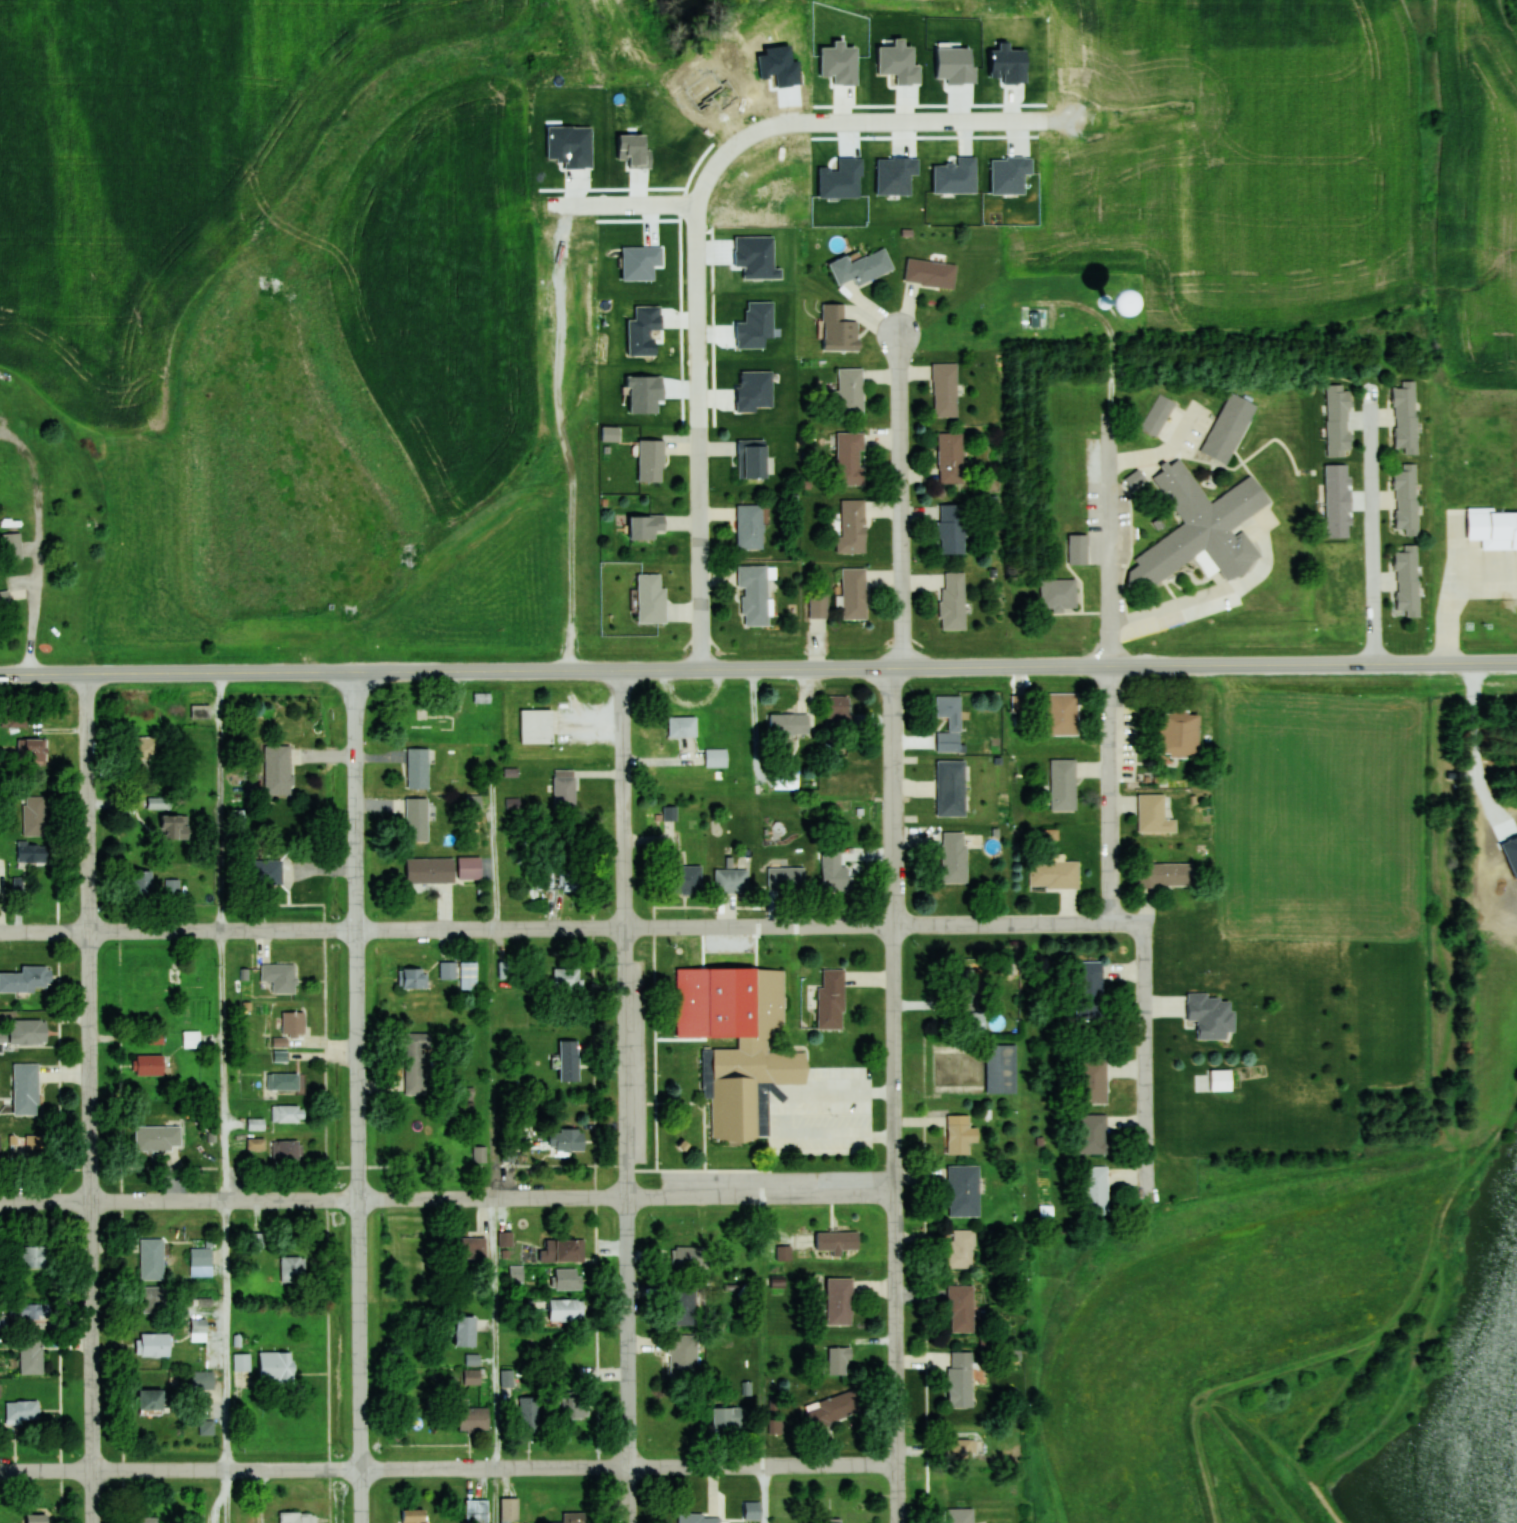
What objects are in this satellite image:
road: (791, 121)
building: (861, 266)
building: (930, 272)
water tower: (1112, 302)
building: (839, 328)
building: (945, 389)
building: (851, 390)
building: (1159, 411)
building: (1406, 416)
building: (1229, 427)
building: (610, 433)
road: (700, 438)
road: (1110, 449)
building: (951, 457)
building: (752, 458)
building: (851, 458)
building: (651, 460)
building: (1135, 478)
building: (1406, 499)
road: (900, 500)
building: (647, 526)
building: (750, 526)
building: (852, 526)
building: (1210, 526)
road: (1374, 526)
building: (1497, 528)
building: (952, 529)
building: (11, 545)
building: (1078, 549)
building: (1408, 580)
building: (754, 593)
building: (854, 593)
building: (1058, 594)
building: (5, 597)
building: (651, 599)
building: (953, 600)
building: (818, 605)
road: (803, 668)
road: (44, 674)
building: (481, 702)
building: (1018, 703)
building: (200, 711)
building: (1061, 713)
building: (838, 714)
building: (949, 722)
building: (789, 723)
building: (429, 724)
building: (536, 726)
building: (682, 726)
building: (1179, 732)
building: (145, 748)
building: (34, 750)
building: (716, 757)
building: (418, 768)
building: (278, 769)
building: (1063, 783)
building: (951, 787)
building: (564, 788)
building: (669, 813)
building: (1153, 814)
building: (34, 815)
building: (417, 818)
building: (174, 826)
building: (31, 851)
building: (953, 856)
building: (469, 867)
building: (430, 869)
building: (267, 872)
building: (834, 872)
building: (1054, 872)
building: (1165, 874)
building: (786, 878)
building: (570, 879)
building: (687, 879)
building: (731, 880)
building: (142, 882)
building: (170, 888)
road: (1130, 921)
road: (556, 929)
building: (447, 970)
building: (505, 970)
building: (468, 976)
building: (280, 977)
building: (412, 978)
building: (26, 979)
building: (566, 979)
building: (678, 980)
building: (1089, 986)
building: (831, 1000)
building: (970, 1005)
building: (1212, 1015)
building: (293, 1023)
building: (24, 1033)
building: (190, 1039)
building: (746, 1047)
building: (569, 1061)
building: (415, 1062)
building: (149, 1065)
building: (1001, 1069)
building: (285, 1081)
building: (1093, 1081)
building: (25, 1089)
road: (894, 1095)
road: (625, 1096)
road: (358, 1097)
road: (90, 1098)
building: (288, 1114)
building: (1091, 1134)
building: (960, 1135)
building: (157, 1137)
building: (567, 1140)
building: (256, 1144)
building: (36, 1146)
building: (287, 1150)
building: (964, 1190)
building: (1097, 1190)
road: (446, 1197)
building: (506, 1238)
building: (837, 1241)
building: (471, 1247)
building: (961, 1249)
building: (563, 1251)
building: (33, 1257)
building: (201, 1257)
building: (690, 1257)
building: (151, 1259)
building: (293, 1269)
building: (516, 1273)
building: (568, 1279)
building: (154, 1300)
building: (839, 1301)
building: (683, 1306)
building: (961, 1308)
building: (565, 1310)
building: (30, 1311)
building: (465, 1331)
building: (153, 1345)
building: (31, 1356)
building: (683, 1356)
building: (839, 1361)
building: (242, 1362)
building: (276, 1368)
building: (472, 1376)
building: (203, 1379)
building: (960, 1379)
building: (506, 1383)
building: (151, 1402)
building: (571, 1405)
building: (832, 1409)
building: (22, 1412)
building: (529, 1414)
building: (474, 1418)
building: (730, 1418)
building: (206, 1427)
building: (962, 1448)
road: (448, 1470)
building: (510, 1509)
building: (752, 1510)
building: (476, 1511)
building: (960, 1515)
building: (413, 1516)
building: (297, 1517)
building: (573, 1517)
building: (36, 1518)
building: (699, 1518)
building: (148, 1519)
building: (833, 1522)

